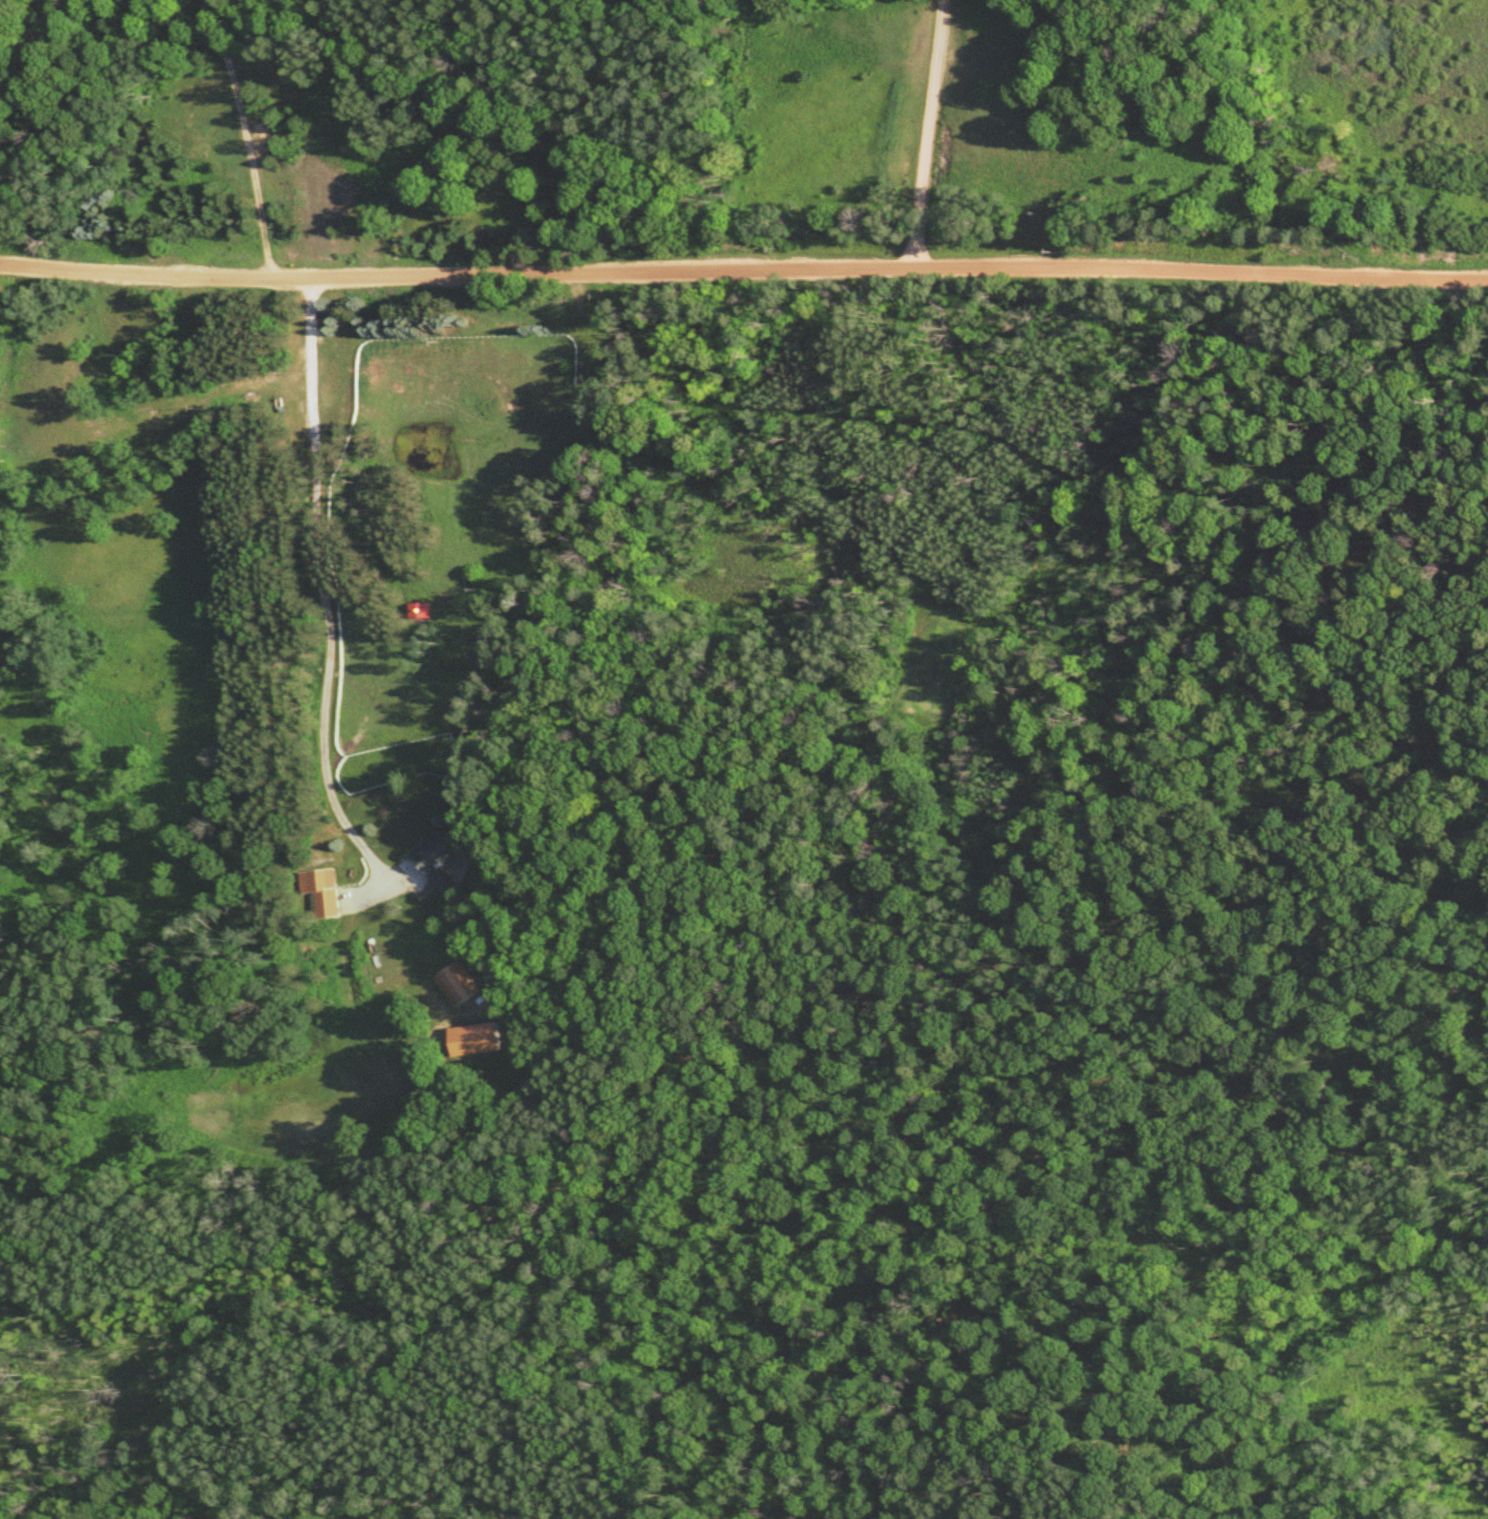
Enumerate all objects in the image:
road: (37, 24)
building: (7, 50)
road: (929, 131)
road: (244, 136)
road: (743, 266)
road: (325, 592)
building: (420, 609)
building: (435, 858)
building: (317, 888)
building: (453, 982)
building: (471, 1037)

